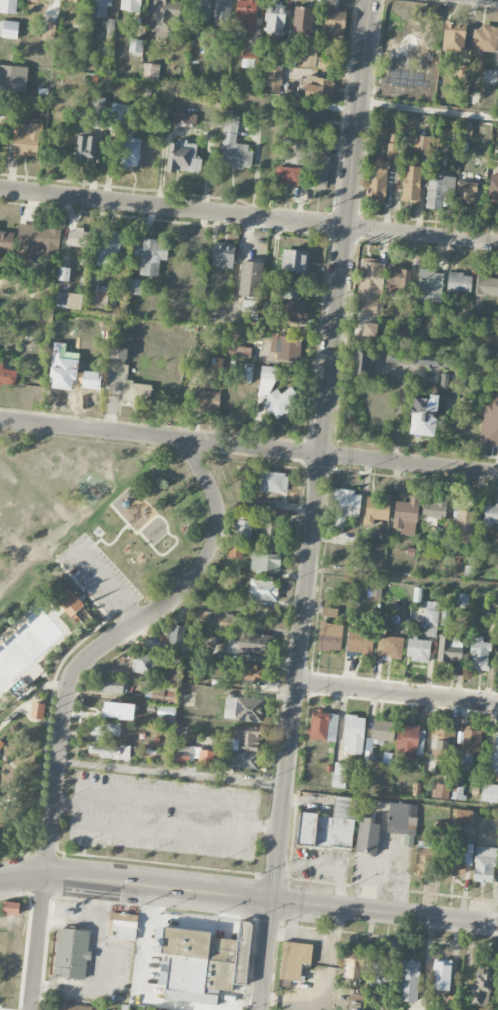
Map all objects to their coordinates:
building: (42, 0)
building: (74, 0)
building: (130, 5)
building: (8, 6)
building: (100, 8)
building: (201, 12)
building: (164, 16)
building: (245, 16)
building: (274, 17)
building: (303, 23)
building: (334, 26)
building: (8, 29)
building: (48, 30)
building: (412, 32)
building: (453, 38)
building: (484, 40)
building: (135, 47)
building: (250, 58)
building: (150, 71)
building: (462, 71)
building: (274, 76)
building: (490, 76)
building: (10, 77)
building: (318, 88)
building: (33, 102)
building: (97, 104)
road: (429, 110)
building: (115, 113)
building: (316, 118)
building: (183, 119)
building: (97, 122)
building: (26, 138)
building: (84, 142)
building: (421, 143)
building: (233, 145)
building: (391, 151)
building: (130, 152)
building: (183, 157)
building: (316, 161)
building: (288, 175)
building: (376, 181)
building: (411, 183)
road: (131, 188)
building: (438, 190)
building: (493, 192)
building: (466, 194)
road: (118, 215)
road: (248, 216)
road: (423, 220)
road: (364, 221)
building: (78, 238)
building: (6, 241)
building: (38, 241)
building: (108, 247)
building: (223, 255)
building: (150, 256)
building: (293, 260)
building: (63, 268)
building: (251, 279)
building: (398, 279)
building: (459, 282)
building: (429, 286)
building: (486, 286)
building: (136, 287)
building: (369, 287)
building: (287, 288)
building: (37, 292)
building: (96, 296)
building: (69, 300)
building: (294, 311)
building: (369, 330)
building: (286, 347)
building: (117, 353)
building: (430, 360)
building: (361, 363)
building: (269, 373)
building: (7, 375)
building: (134, 391)
building: (207, 400)
building: (280, 401)
building: (423, 416)
building: (489, 422)
road: (249, 445)
road: (324, 450)
building: (271, 481)
park: (88, 488)
building: (346, 506)
building: (261, 507)
building: (376, 509)
building: (434, 511)
building: (490, 515)
building: (406, 516)
road: (162, 523)
building: (464, 526)
building: (243, 528)
building: (267, 532)
road: (102, 543)
building: (362, 548)
building: (235, 550)
building: (264, 561)
parking lot: (95, 576)
road: (404, 578)
road: (105, 584)
road: (87, 587)
road: (77, 588)
building: (56, 589)
building: (263, 590)
building: (463, 600)
building: (69, 606)
building: (431, 613)
park: (74, 615)
building: (214, 618)
building: (176, 635)
building: (330, 636)
building: (207, 640)
building: (359, 640)
building: (27, 644)
building: (250, 644)
building: (389, 646)
building: (418, 649)
building: (449, 649)
building: (479, 654)
building: (497, 660)
building: (143, 665)
building: (250, 671)
building: (110, 686)
road: (66, 688)
building: (20, 690)
road: (397, 692)
building: (162, 695)
road: (23, 700)
road: (36, 700)
building: (33, 709)
building: (243, 709)
building: (166, 710)
road: (26, 719)
building: (323, 726)
building: (105, 729)
building: (353, 734)
building: (380, 734)
road: (42, 736)
building: (407, 741)
building: (442, 744)
building: (471, 744)
building: (243, 750)
building: (108, 751)
building: (495, 752)
building: (183, 754)
building: (206, 758)
road: (19, 773)
road: (171, 774)
building: (339, 775)
building: (441, 791)
building: (489, 793)
road: (167, 794)
road: (18, 801)
building: (464, 815)
parking lot: (163, 816)
building: (400, 817)
building: (329, 825)
building: (488, 832)
building: (367, 835)
road: (163, 836)
building: (408, 840)
road: (14, 848)
building: (460, 859)
building: (421, 862)
building: (485, 864)
road: (22, 877)
road: (271, 900)
building: (7, 907)
road: (191, 920)
building: (122, 925)
parking lot: (95, 946)
building: (71, 953)
road: (267, 955)
building: (294, 959)
building: (200, 963)
building: (352, 965)
road: (108, 968)
building: (380, 972)
building: (440, 974)
building: (409, 980)
building: (481, 987)
building: (440, 994)
building: (356, 1002)
building: (78, 1007)
road: (1, 1009)
building: (337, 1009)

